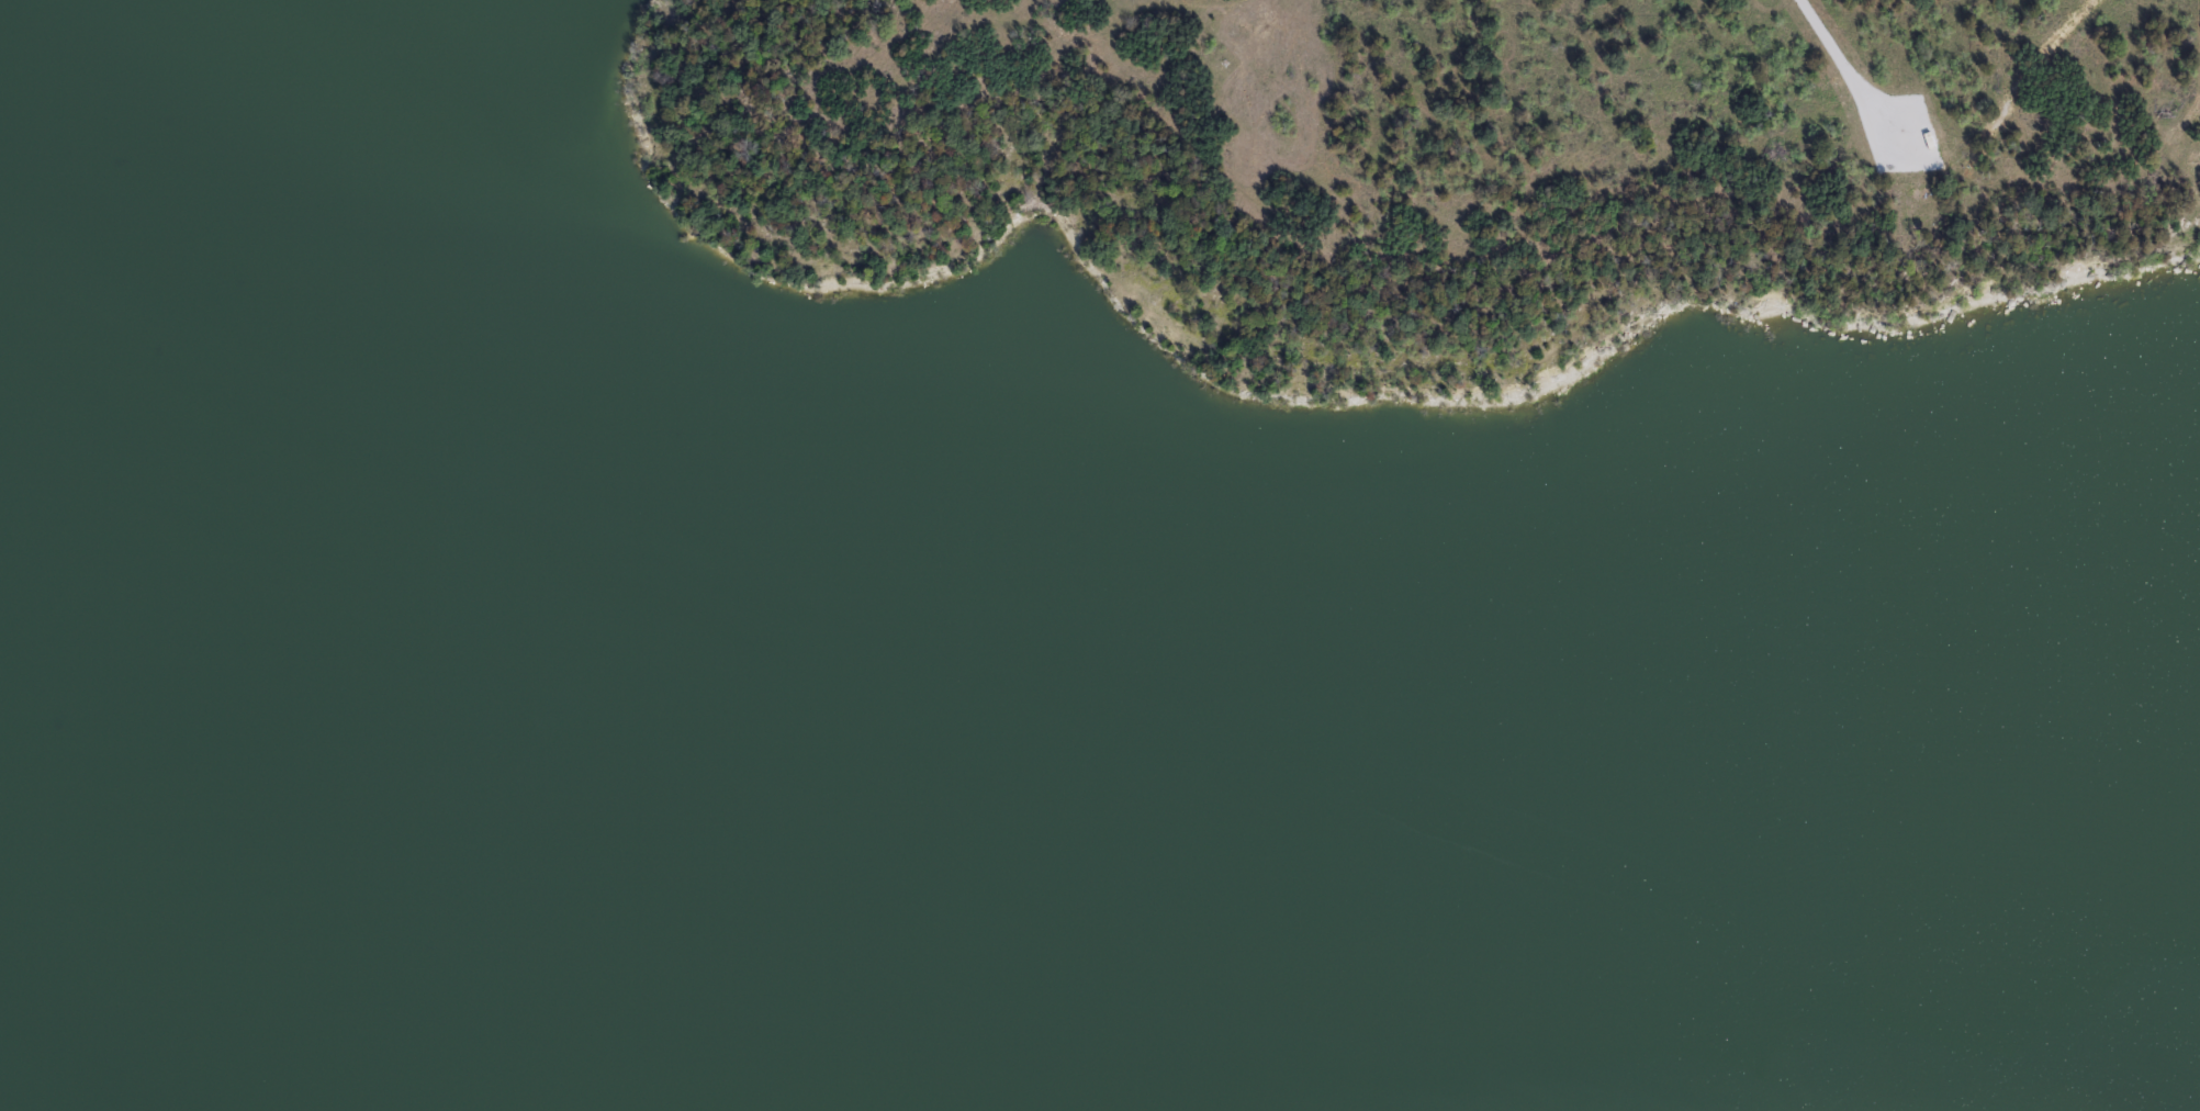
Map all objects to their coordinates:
park: (680, 897)

